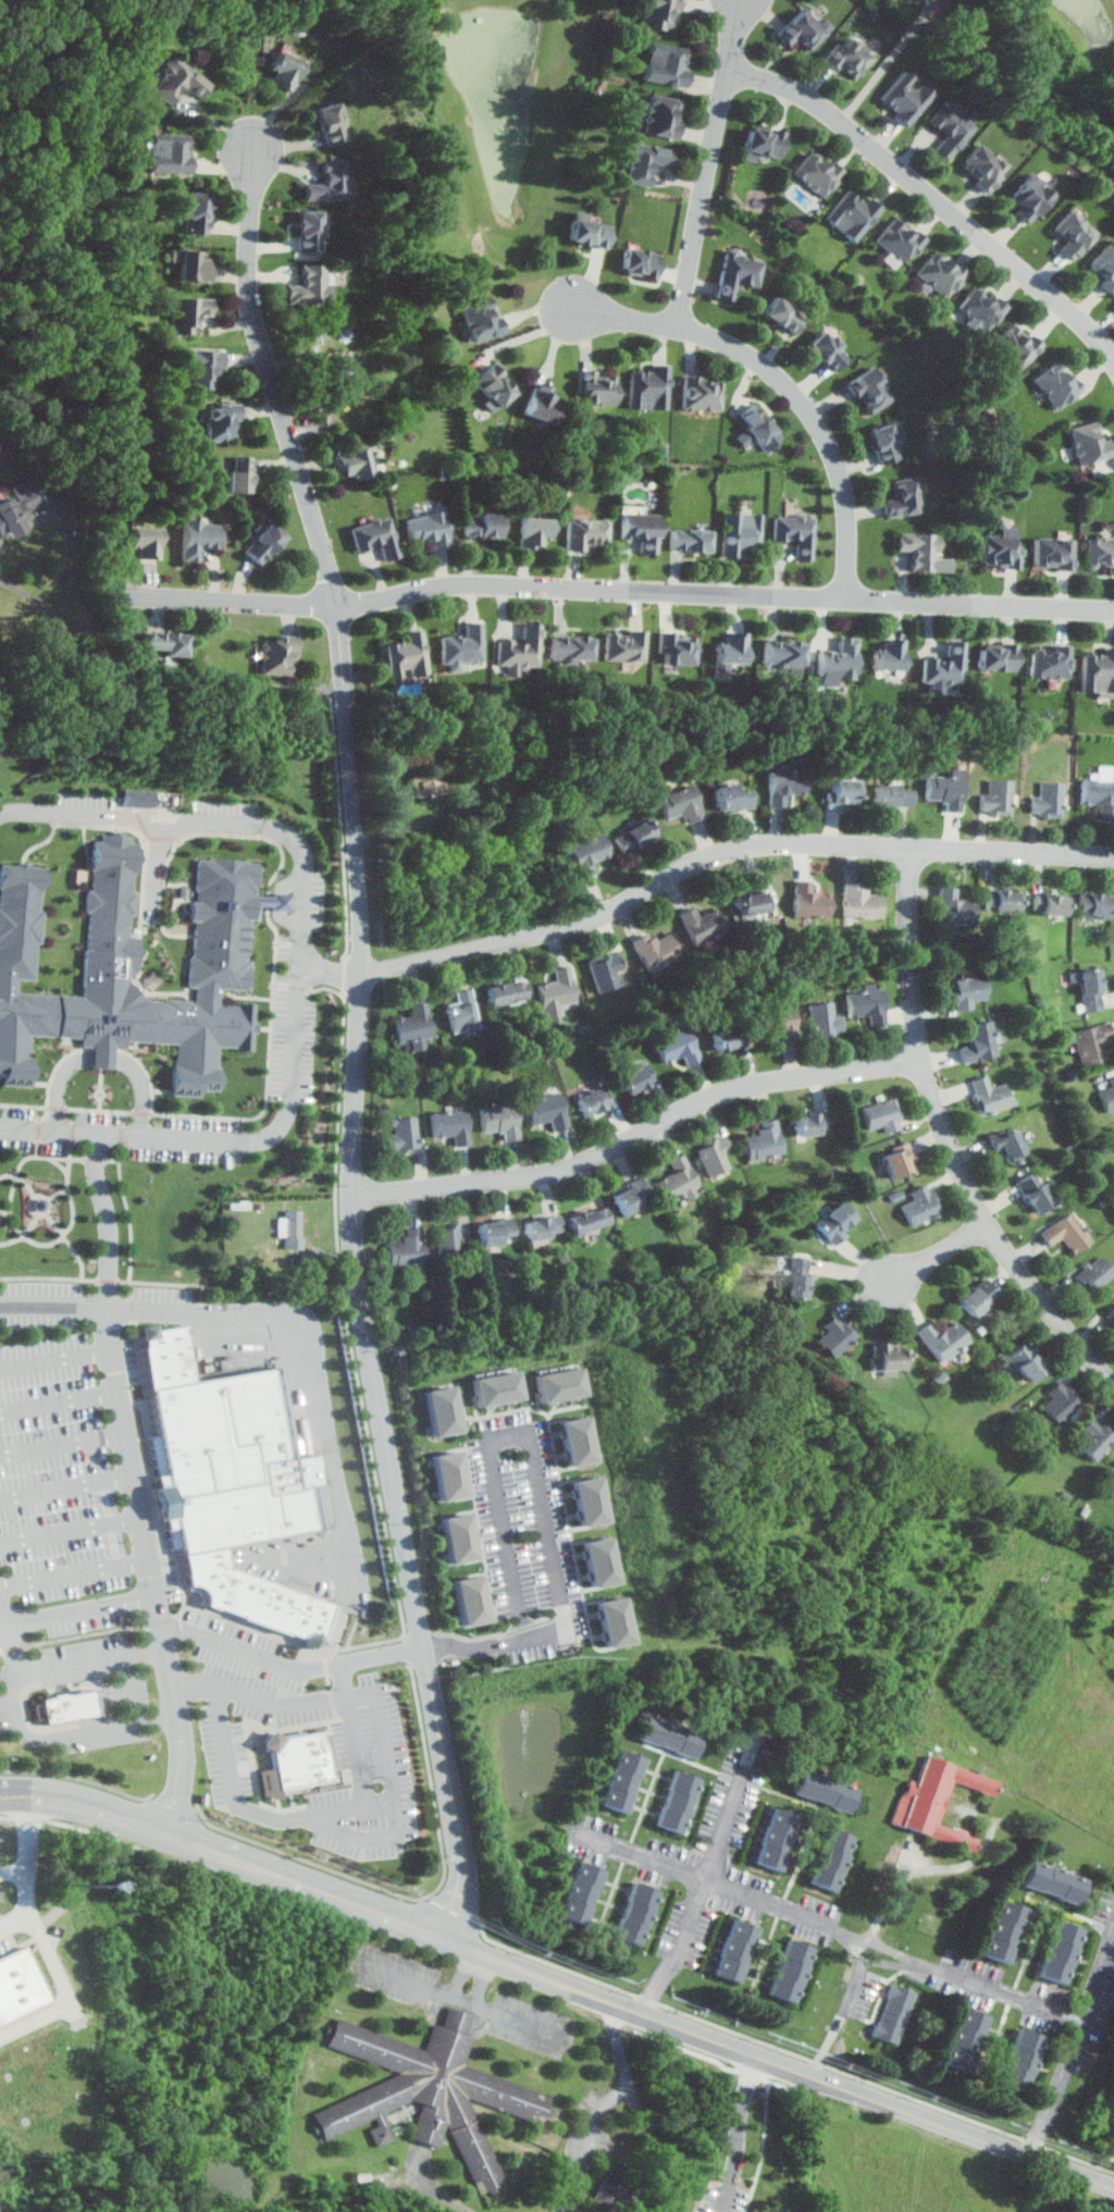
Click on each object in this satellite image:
building: (658, 13)
building: (802, 29)
building: (847, 59)
road: (888, 63)
building: (665, 64)
building: (282, 69)
building: (175, 82)
building: (904, 99)
building: (660, 118)
building: (330, 125)
building: (949, 129)
building: (763, 141)
building: (168, 153)
building: (642, 162)
road: (710, 163)
building: (981, 165)
building: (816, 173)
building: (329, 183)
road: (932, 195)
building: (1025, 196)
building: (194, 213)
building: (852, 215)
building: (308, 232)
building: (586, 232)
building: (1068, 234)
building: (898, 239)
building: (638, 263)
building: (193, 265)
building: (1101, 268)
building: (737, 273)
building: (939, 273)
building: (309, 286)
building: (979, 308)
building: (186, 313)
building: (782, 316)
building: (478, 319)
building: (1015, 345)
building: (826, 350)
building: (202, 368)
building: (338, 374)
road: (789, 383)
building: (492, 385)
building: (1055, 385)
building: (596, 388)
building: (648, 388)
building: (869, 391)
building: (701, 394)
building: (539, 404)
building: (221, 422)
building: (754, 423)
building: (1088, 443)
building: (882, 444)
building: (352, 464)
building: (238, 477)
building: (903, 498)
building: (17, 509)
building: (481, 526)
building: (425, 529)
building: (640, 531)
building: (532, 533)
building: (740, 534)
building: (795, 534)
building: (585, 535)
building: (374, 536)
building: (198, 539)
road: (1, 540)
building: (688, 541)
building: (144, 542)
building: (262, 544)
building: (918, 551)
building: (1000, 551)
building: (1052, 555)
building: (1099, 555)
road: (621, 589)
road: (34, 596)
building: (163, 644)
building: (623, 646)
building: (461, 648)
building: (519, 648)
building: (677, 648)
building: (729, 648)
building: (570, 650)
building: (277, 656)
building: (780, 656)
building: (888, 656)
building: (405, 657)
building: (995, 657)
building: (837, 660)
building: (1048, 662)
building: (943, 667)
building: (1098, 671)
road: (194, 684)
road: (349, 714)
building: (424, 783)
building: (785, 786)
building: (943, 791)
building: (841, 793)
building: (890, 795)
building: (1099, 795)
building: (995, 798)
building: (729, 799)
building: (1048, 801)
building: (136, 802)
building: (680, 804)
road: (216, 818)
building: (634, 837)
road: (728, 849)
building: (586, 855)
building: (808, 902)
building: (1000, 902)
building: (748, 903)
building: (858, 904)
building: (1050, 904)
building: (1094, 905)
building: (954, 911)
building: (702, 926)
building: (655, 951)
building: (128, 968)
road: (334, 972)
building: (606, 973)
building: (558, 990)
building: (967, 991)
building: (1088, 991)
building: (507, 993)
building: (866, 1004)
building: (462, 1012)
building: (779, 1017)
building: (824, 1021)
building: (413, 1027)
building: (727, 1038)
building: (977, 1042)
building: (1091, 1043)
building: (677, 1048)
road: (104, 1054)
building: (635, 1080)
road: (61, 1083)
road: (144, 1088)
building: (1109, 1095)
building: (989, 1096)
building: (592, 1102)
building: (544, 1112)
building: (881, 1116)
building: (497, 1122)
building: (807, 1125)
building: (450, 1126)
road: (640, 1134)
building: (403, 1135)
road: (222, 1138)
road: (949, 1138)
building: (1008, 1138)
building: (763, 1141)
building: (717, 1157)
building: (898, 1162)
building: (679, 1181)
building: (1033, 1194)
building: (628, 1197)
building: (918, 1207)
road: (114, 1218)
building: (589, 1221)
building: (835, 1224)
building: (542, 1228)
building: (292, 1231)
building: (492, 1233)
building: (1066, 1234)
building: (449, 1243)
building: (407, 1249)
road: (938, 1252)
building: (1094, 1275)
building: (796, 1278)
road: (181, 1285)
building: (977, 1298)
road: (55, 1306)
building: (1111, 1315)
building: (835, 1337)
building: (942, 1340)
road: (315, 1352)
road: (60, 1356)
building: (886, 1359)
building: (1026, 1359)
building: (564, 1383)
building: (498, 1386)
road: (63, 1399)
building: (1060, 1401)
building: (442, 1409)
building: (1094, 1438)
building: (581, 1439)
road: (66, 1442)
building: (449, 1473)
building: (231, 1482)
road: (71, 1488)
building: (593, 1499)
road: (74, 1529)
building: (459, 1536)
building: (602, 1560)
road: (158, 1570)
road: (78, 1572)
building: (472, 1598)
road: (7, 1609)
road: (570, 1610)
road: (88, 1614)
road: (418, 1614)
building: (616, 1620)
road: (7, 1630)
road: (58, 1667)
road: (133, 1688)
road: (278, 1704)
building: (72, 1706)
road: (117, 1725)
building: (670, 1735)
road: (358, 1751)
building: (298, 1762)
building: (621, 1781)
building: (825, 1790)
road: (15, 1793)
building: (937, 1800)
building: (676, 1801)
road: (102, 1806)
road: (354, 1807)
road: (342, 1829)
building: (775, 1839)
road: (223, 1852)
building: (830, 1859)
road: (942, 1866)
road: (29, 1875)
road: (708, 1878)
building: (1053, 1881)
building: (580, 1892)
road: (363, 1904)
building: (635, 1914)
road: (832, 1926)
building: (1003, 1930)
road: (868, 1950)
building: (734, 1951)
building: (1060, 1951)
road: (54, 1960)
building: (790, 1972)
road: (475, 1975)
building: (20, 1985)
road: (850, 1990)
road: (465, 1998)
building: (894, 2014)
road: (37, 2022)
building: (963, 2039)
road: (1076, 2051)
building: (1020, 2060)
road: (781, 2064)
building: (431, 2091)
road: (606, 2105)
road: (739, 2133)
building: (617, 2184)
road: (442, 2194)

